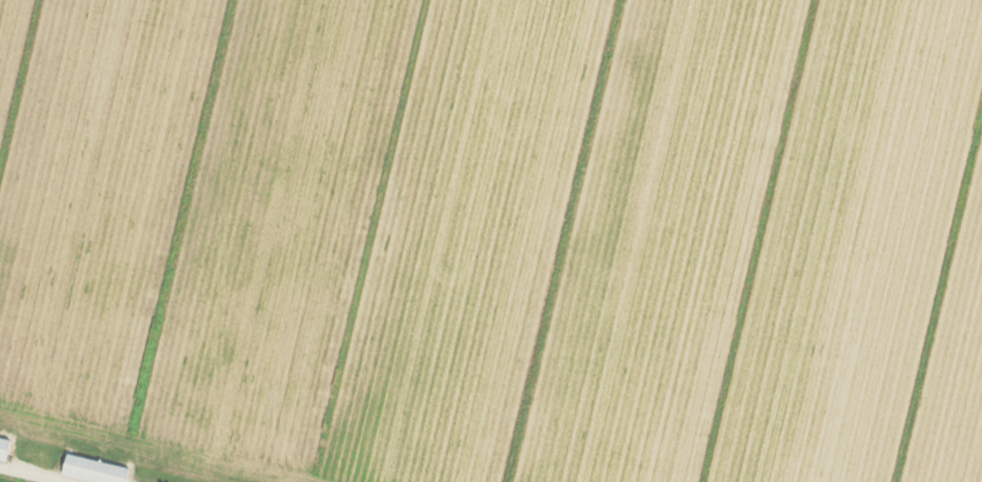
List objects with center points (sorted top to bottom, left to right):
building: (7, 448)
building: (98, 470)
road: (31, 474)

